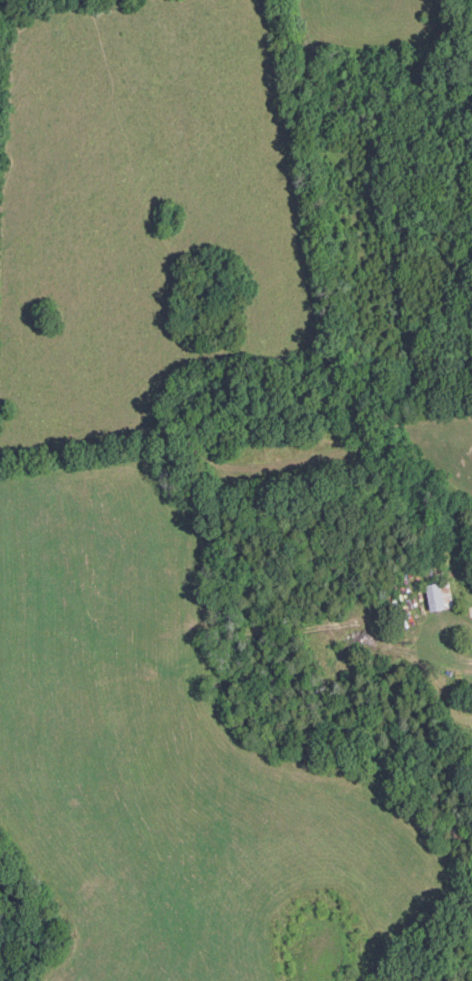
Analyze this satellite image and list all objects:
building: (443, 595)

